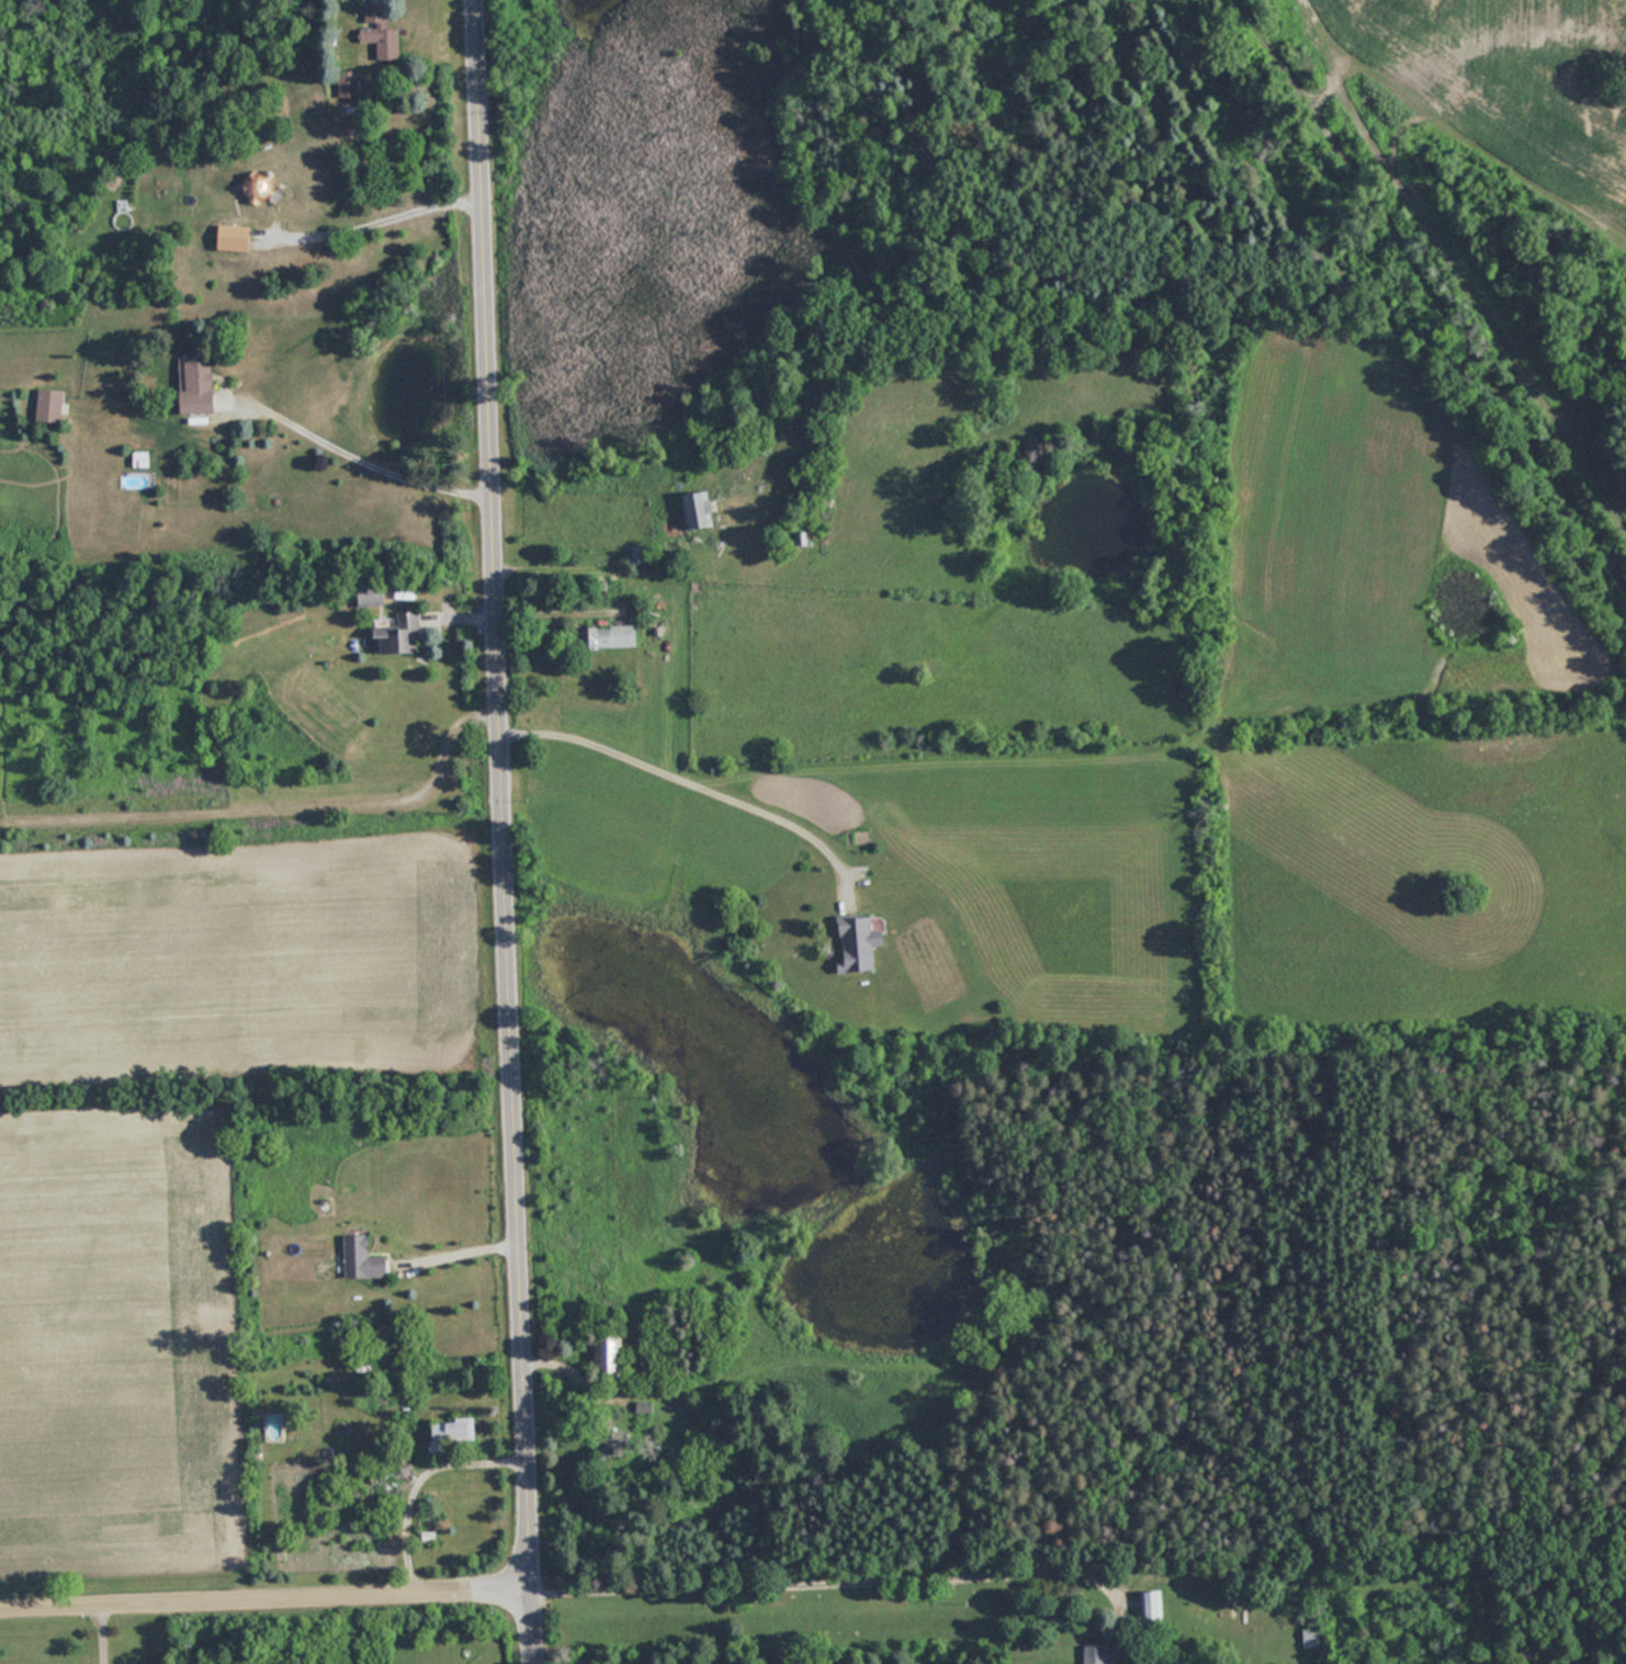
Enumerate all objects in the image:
building: (382, 31)
building: (349, 83)
road: (384, 207)
building: (237, 237)
building: (202, 383)
building: (50, 405)
road: (369, 448)
building: (697, 510)
building: (373, 592)
building: (400, 632)
building: (610, 635)
road: (695, 770)
road: (508, 831)
building: (858, 943)
building: (363, 1258)
building: (611, 1354)
building: (451, 1434)
building: (317, 1518)
road: (268, 1588)
road: (789, 1593)
building: (1151, 1607)
road: (102, 1630)
building: (1310, 1638)
building: (1095, 1653)

